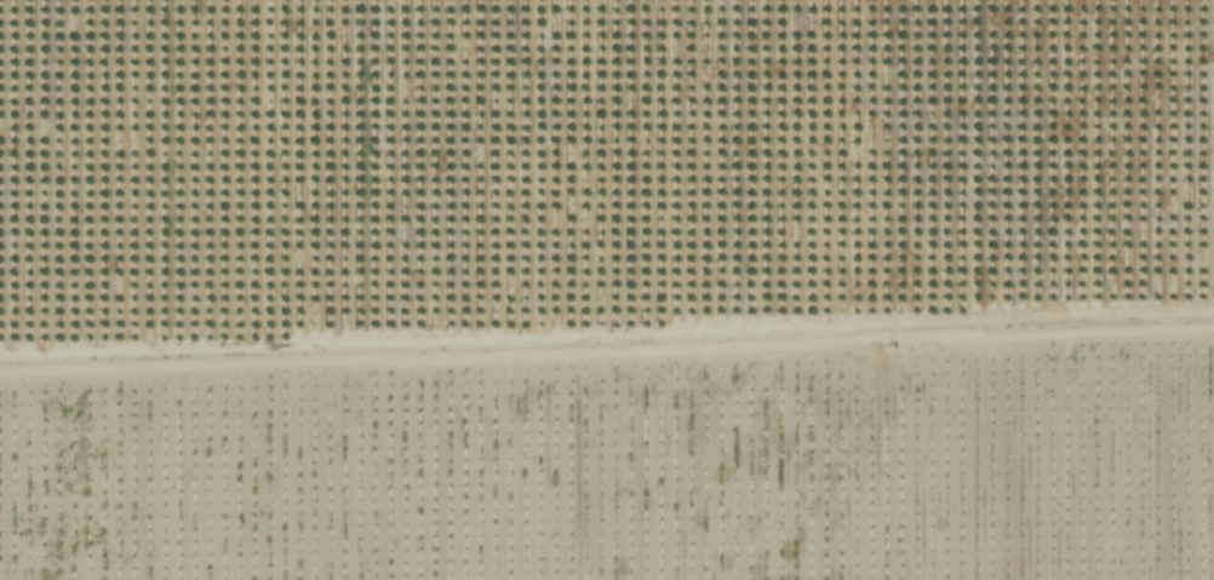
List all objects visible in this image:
crop: (607, 289)

